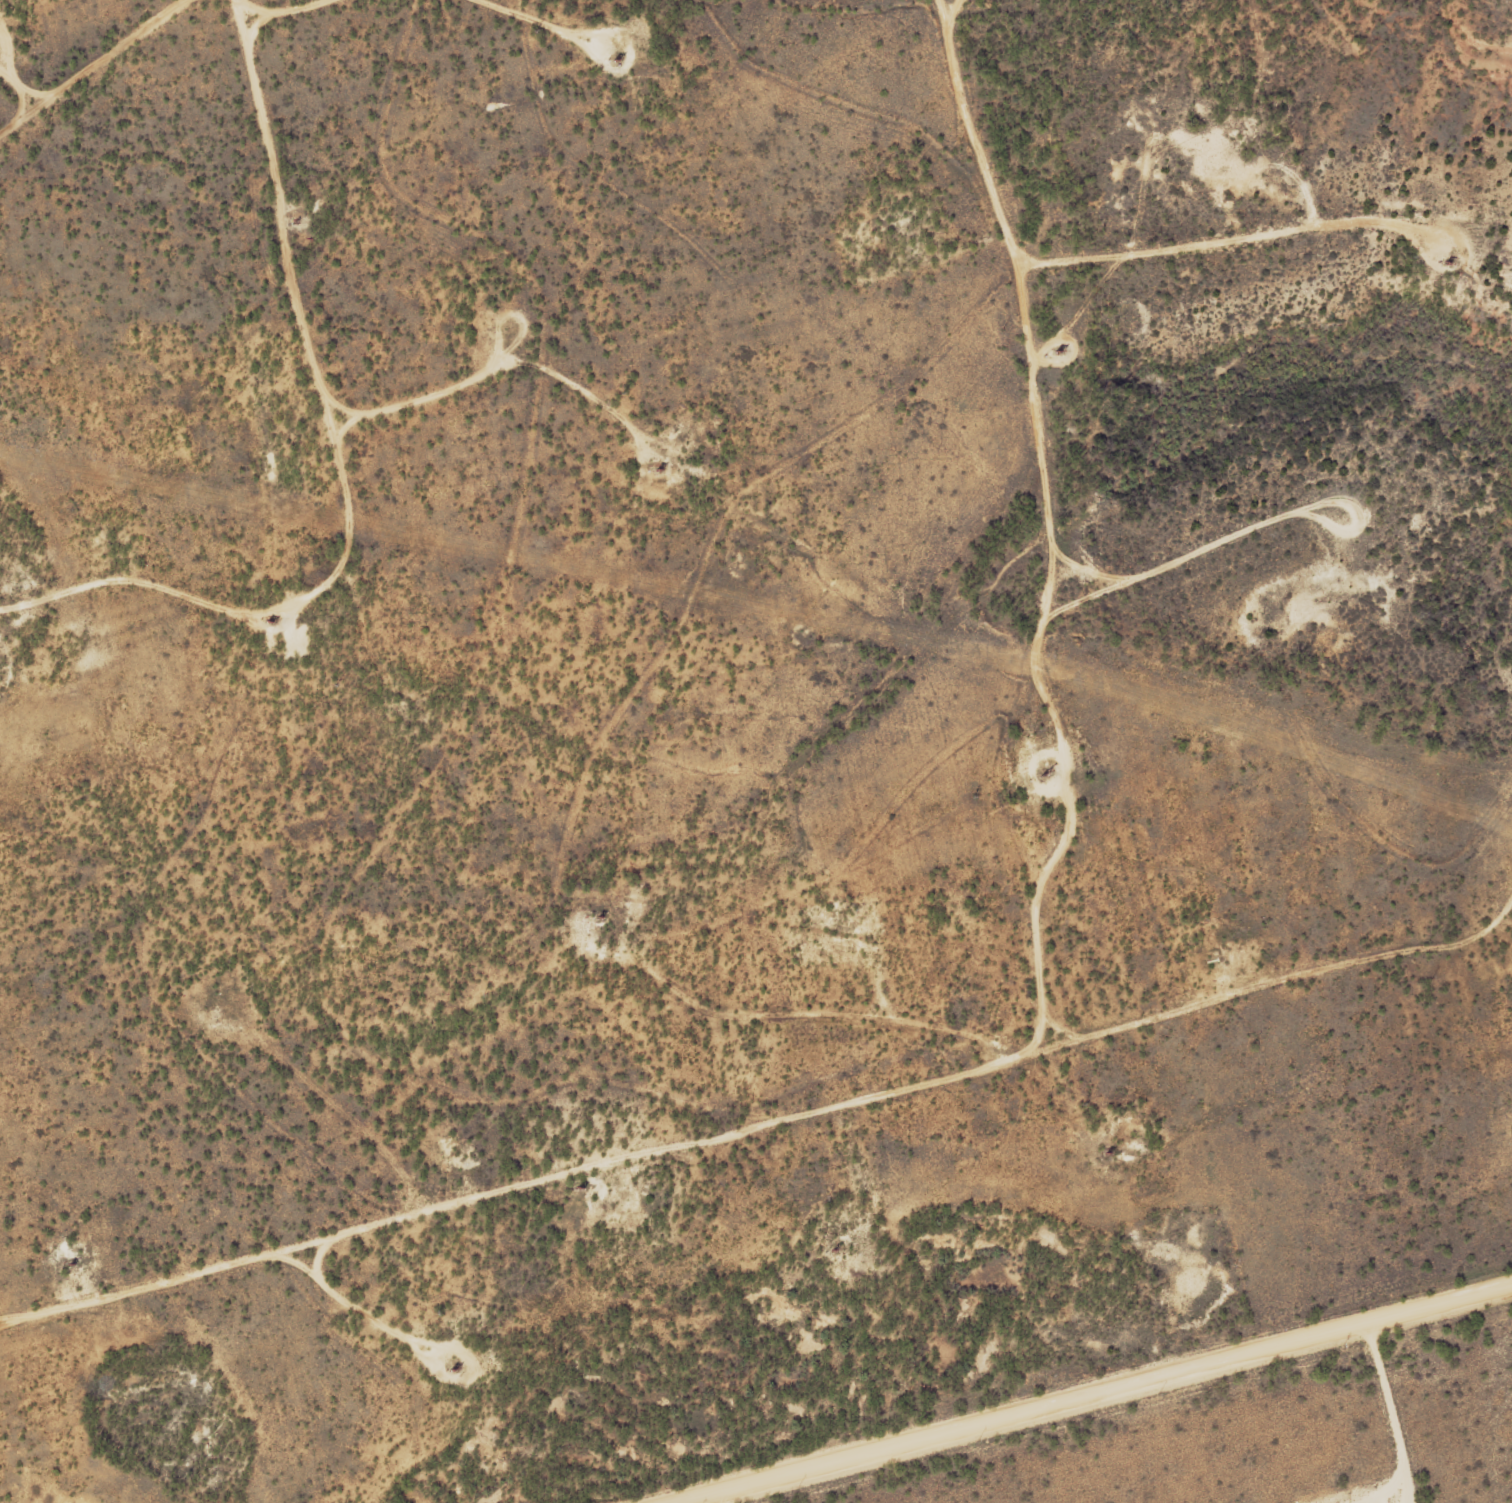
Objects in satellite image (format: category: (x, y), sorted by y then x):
road: (1099, 1398)

